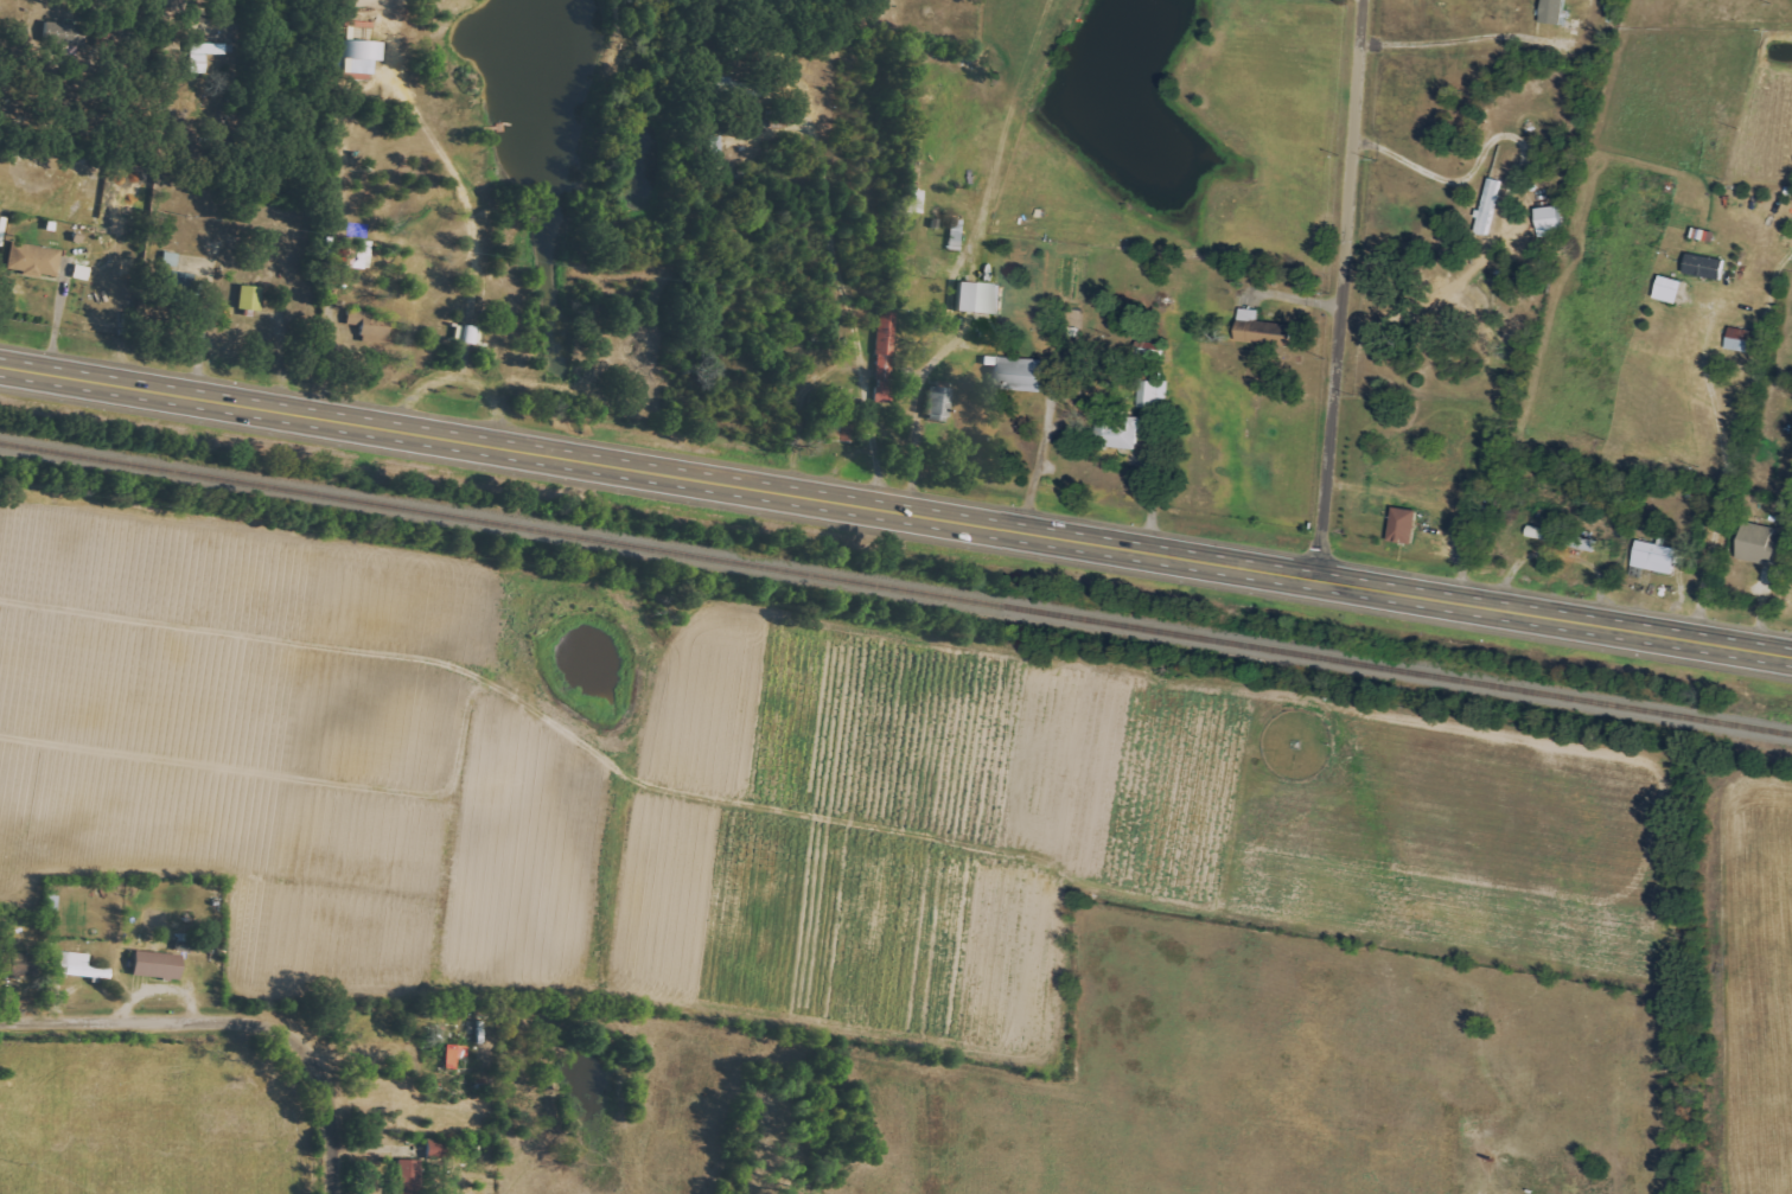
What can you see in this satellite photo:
building: (1555, 11)
building: (64, 33)
building: (204, 55)
building: (362, 57)
building: (742, 88)
building: (719, 151)
building: (917, 200)
building: (1490, 205)
building: (1551, 221)
building: (361, 256)
building: (34, 260)
building: (1707, 267)
road: (1343, 289)
building: (1671, 289)
building: (251, 298)
building: (981, 298)
road: (849, 299)
building: (371, 326)
building: (1267, 331)
building: (1740, 339)
building: (886, 357)
building: (1019, 373)
building: (1150, 394)
building: (940, 402)
road: (919, 409)
building: (1118, 429)
road: (1737, 451)
road: (1039, 459)
road: (895, 510)
building: (1405, 525)
building: (1574, 541)
building: (1764, 544)
building: (1657, 557)
railway: (895, 588)
building: (53, 902)
building: (20, 964)
building: (158, 965)
building: (78, 966)
road: (234, 1015)
building: (455, 1055)
building: (438, 1147)
building: (409, 1177)

